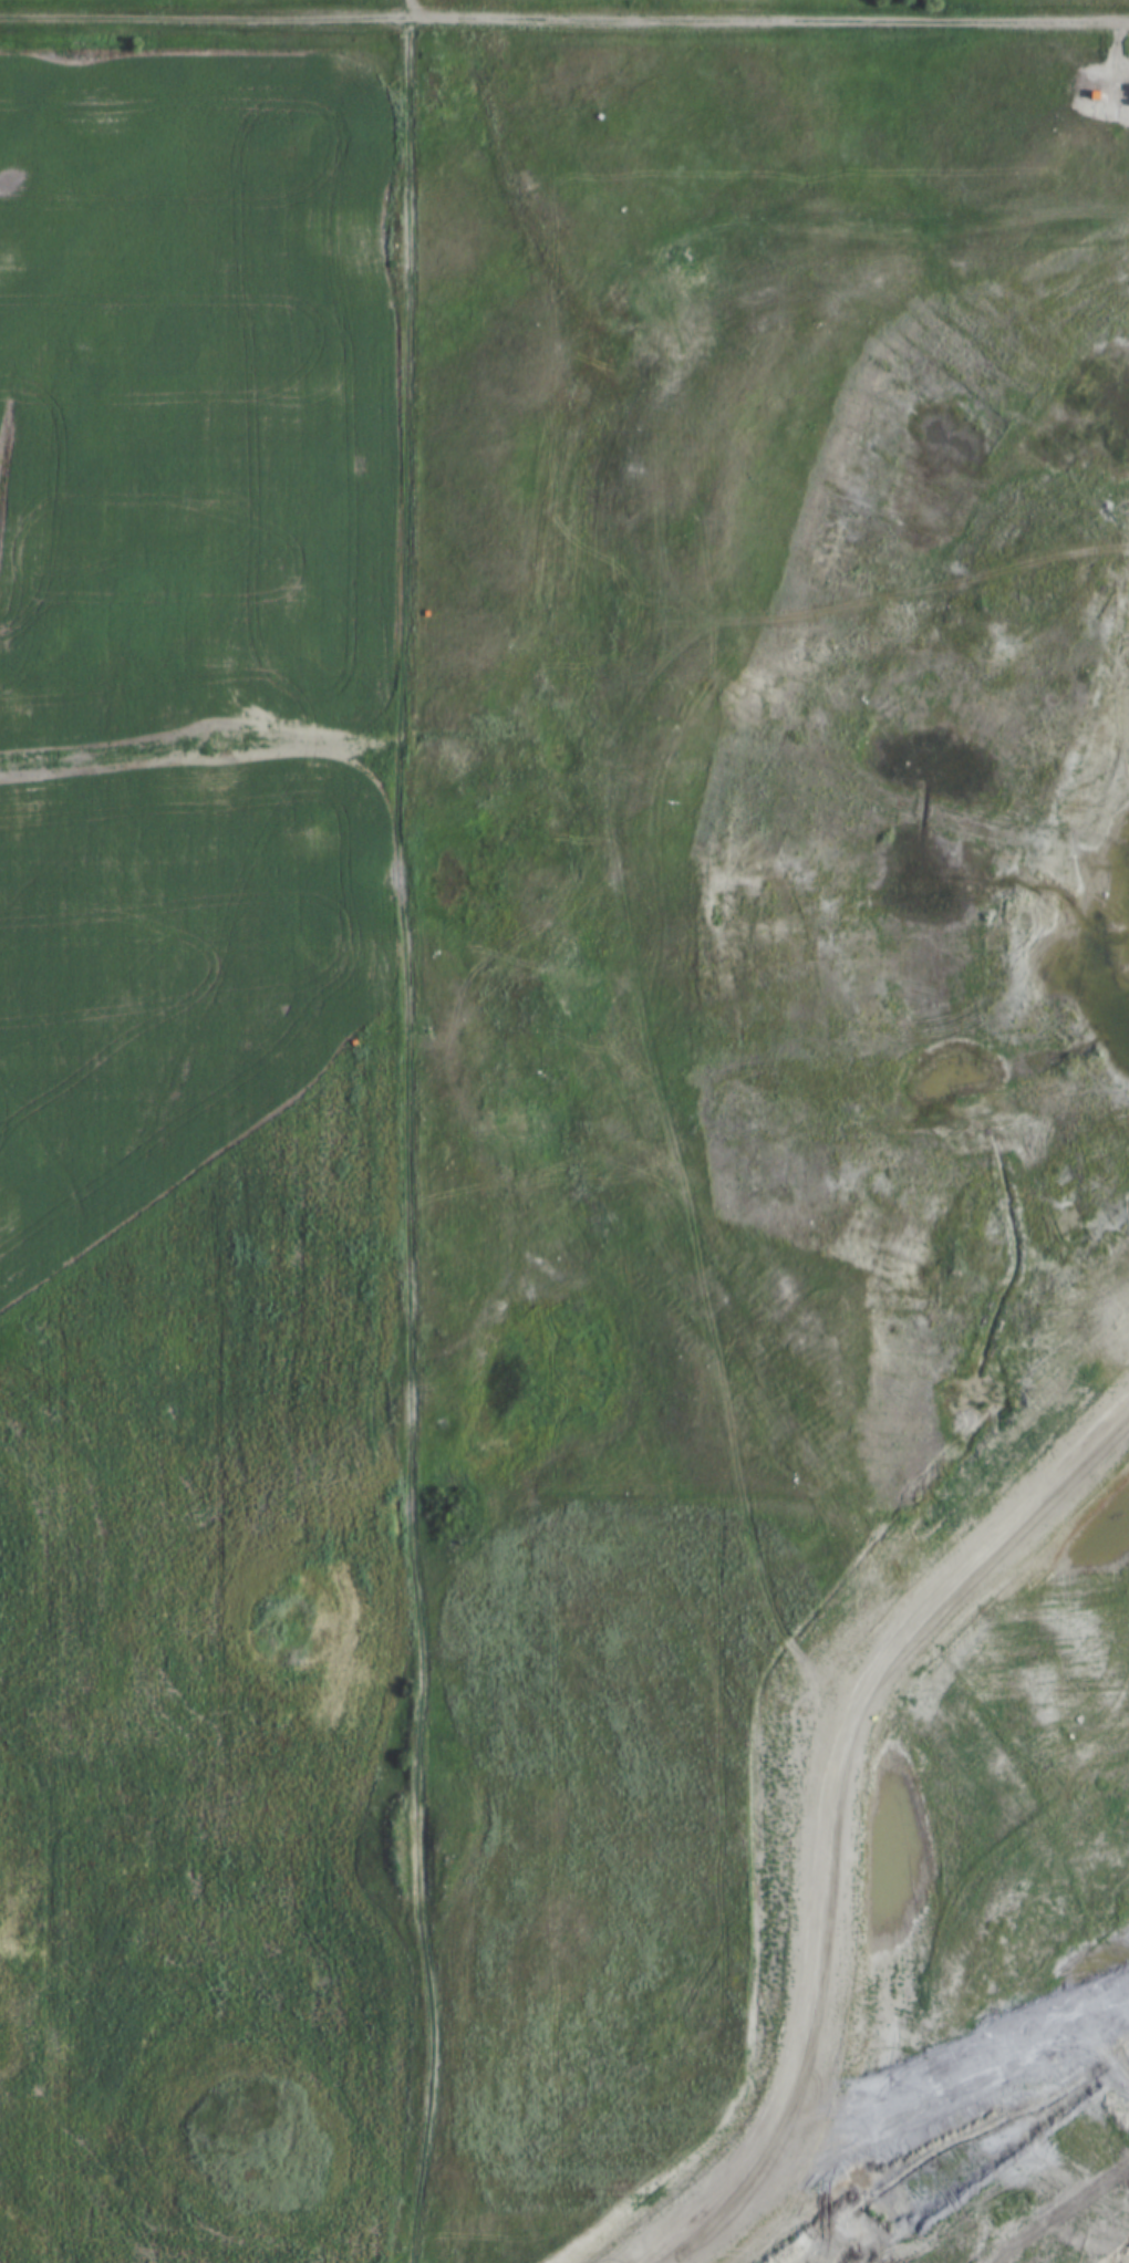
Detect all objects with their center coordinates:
road: (563, 17)
road: (406, 1131)

